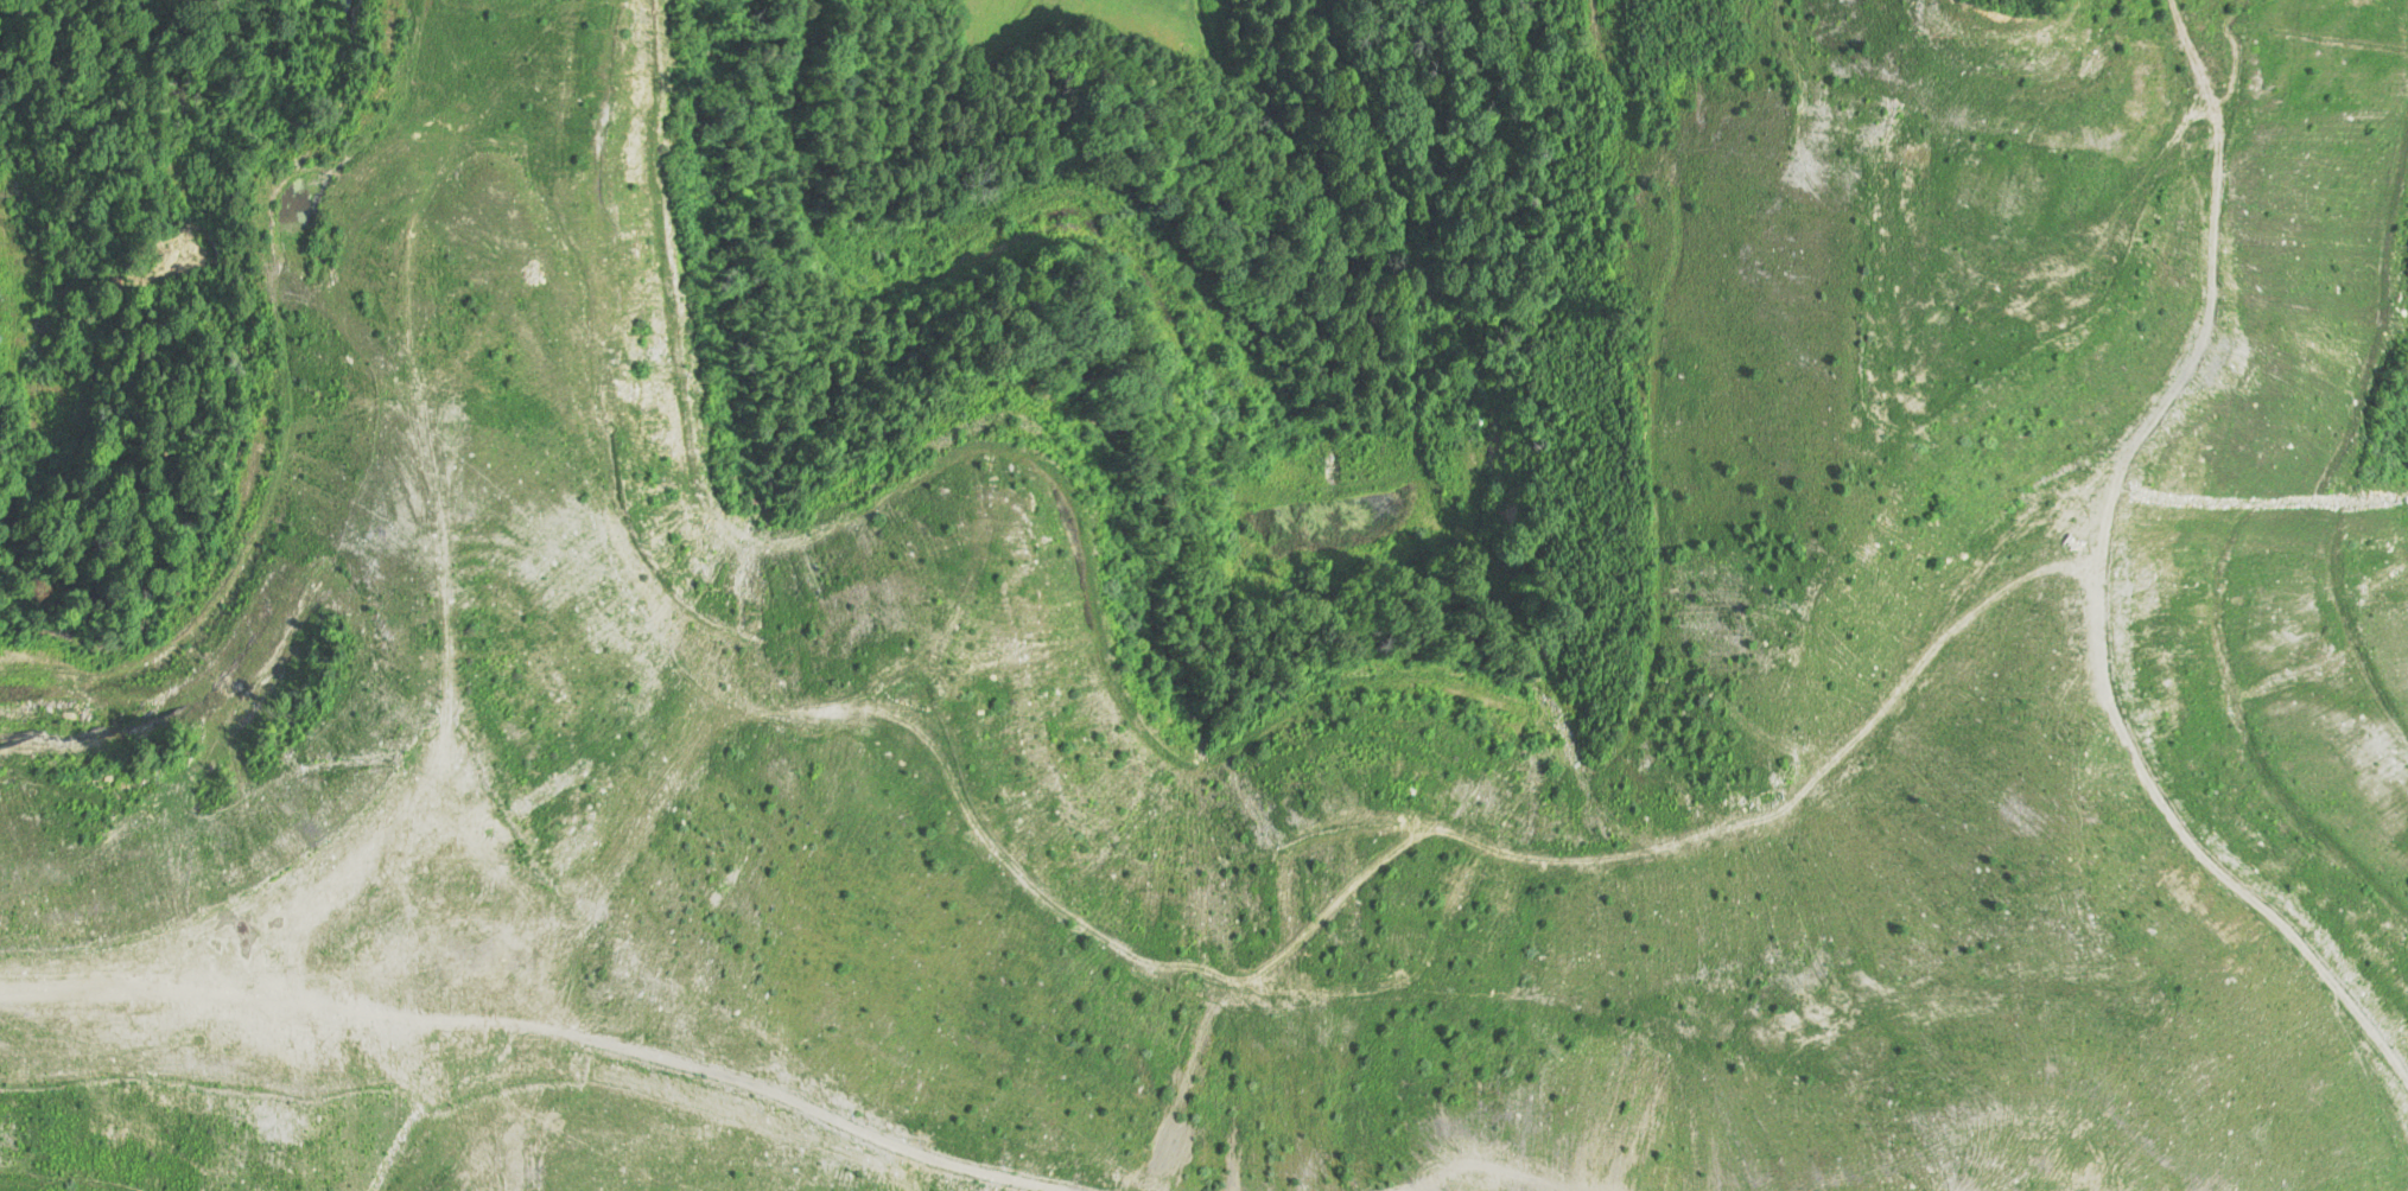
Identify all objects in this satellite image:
road: (1427, 45)
building: (24, 278)
building: (26, 337)
quarry: (1874, 652)

